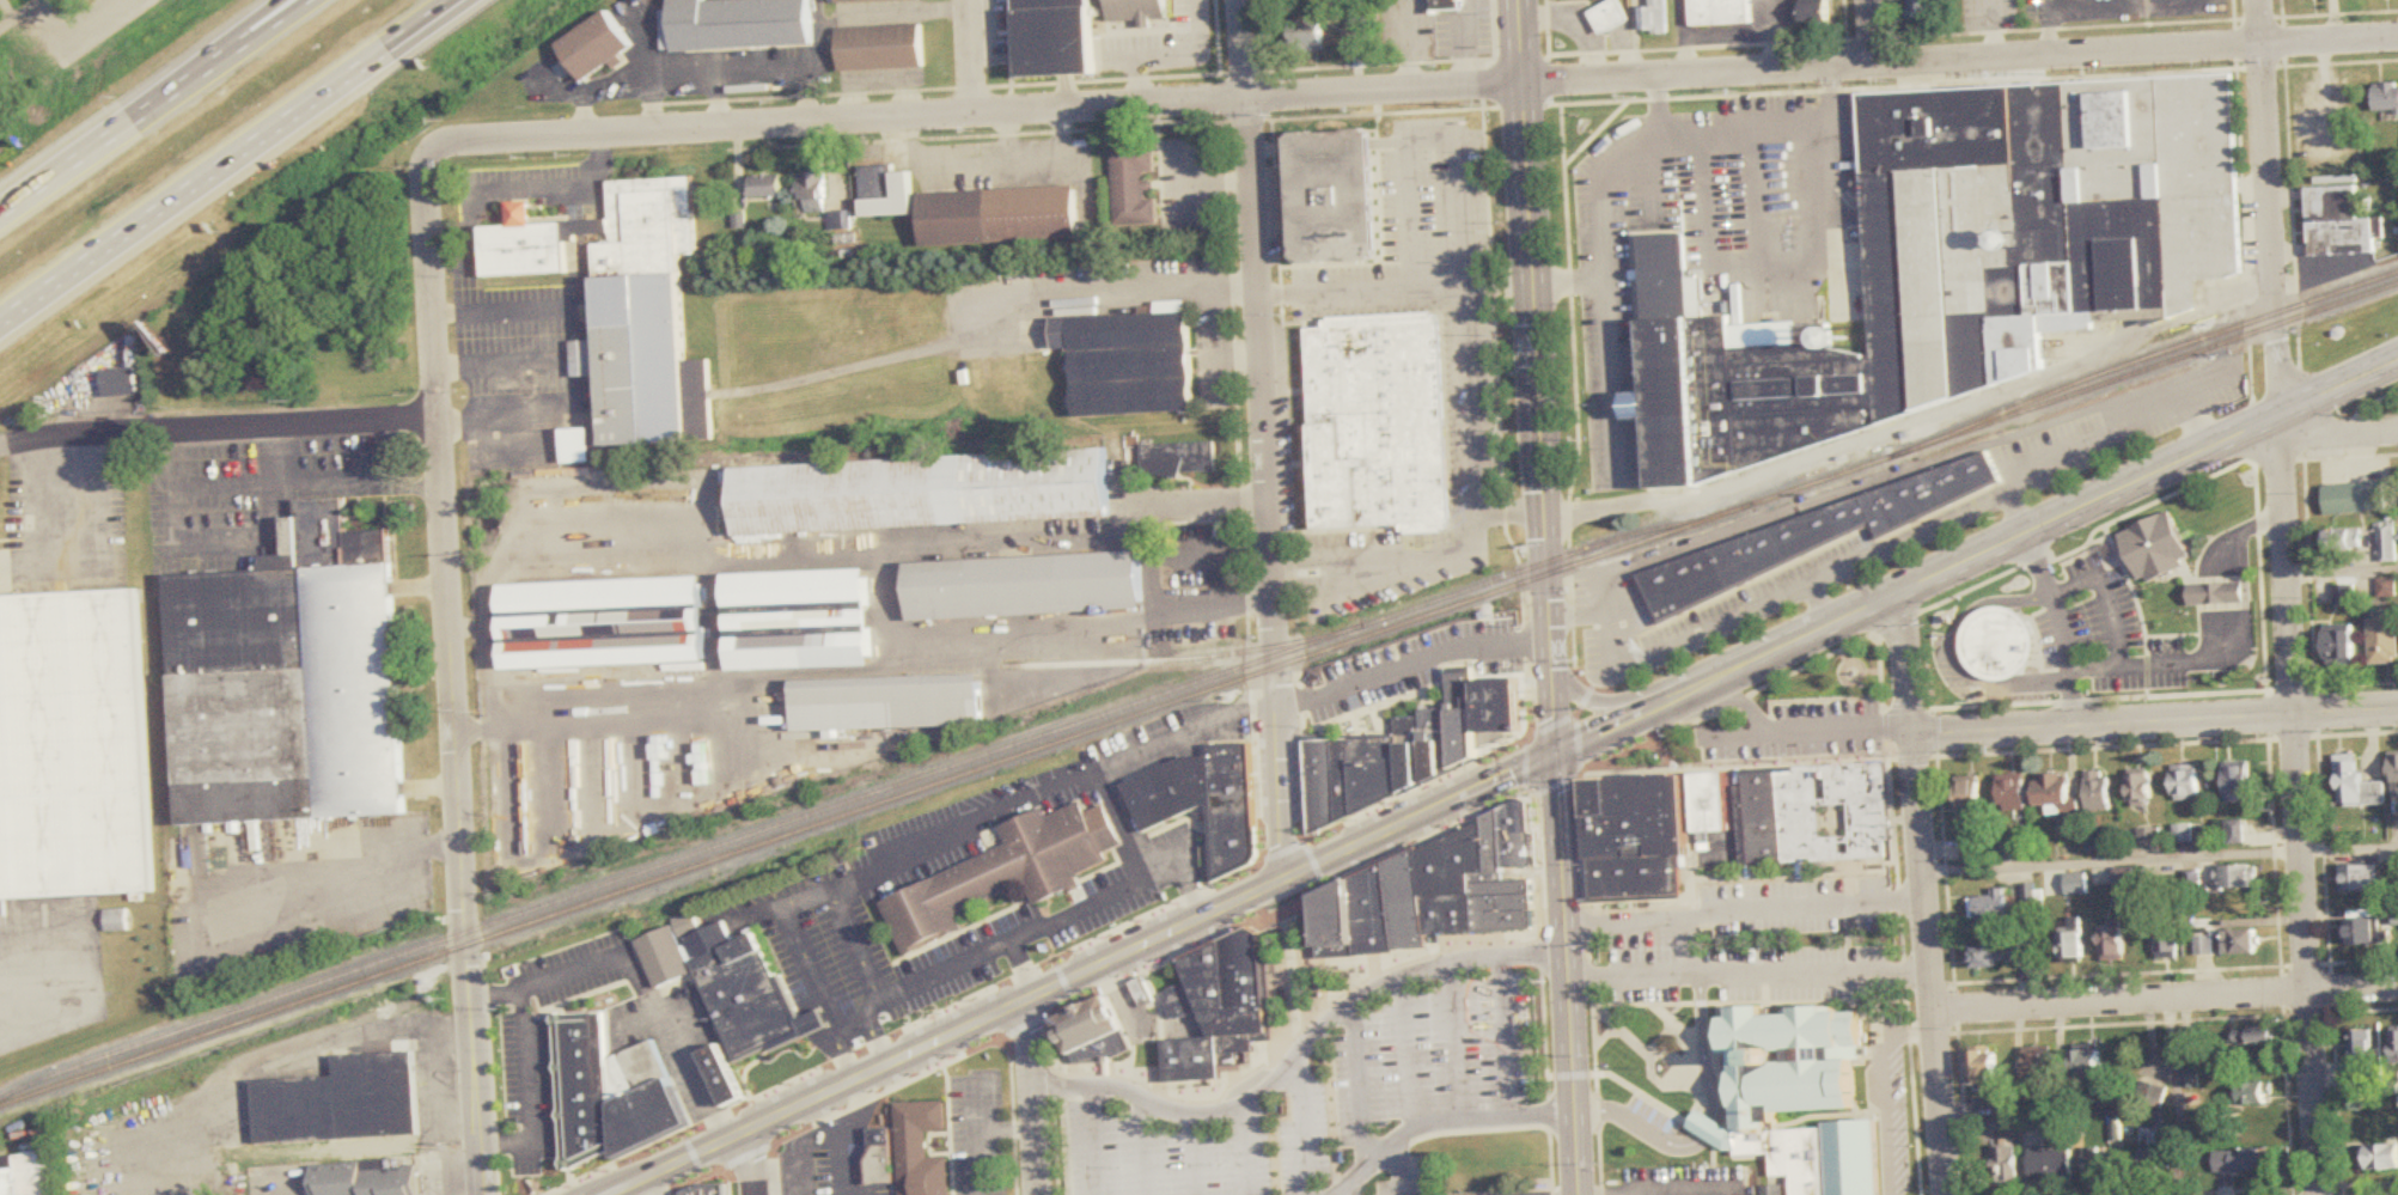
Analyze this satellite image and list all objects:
building: (865, 0)
building: (1586, 0)
road: (59, 1)
road: (109, 4)
road: (117, 4)
road: (969, 5)
building: (1441, 8)
building: (1920, 8)
road: (2094, 10)
building: (1140, 11)
building: (1816, 11)
building: (1720, 13)
road: (24, 16)
building: (1607, 17)
building: (1655, 18)
parking lot: (87, 23)
road: (2259, 23)
building: (742, 24)
road: (1871, 33)
road: (71, 35)
building: (1308, 35)
road: (243, 38)
building: (1055, 38)
building: (597, 47)
building: (880, 48)
road: (401, 53)
road: (972, 60)
road: (769, 71)
road: (1416, 90)
road: (806, 93)
building: (2385, 98)
road: (718, 102)
road: (654, 106)
road: (158, 112)
road: (1744, 135)
road: (1433, 142)
road: (225, 160)
building: (765, 187)
building: (1133, 188)
road: (518, 191)
building: (885, 193)
building: (812, 194)
building: (1334, 195)
building: (1000, 217)
building: (2338, 222)
road: (2270, 228)
road: (1529, 255)
building: (1957, 263)
road: (1775, 282)
road: (1113, 283)
road: (1496, 287)
road: (1359, 291)
road: (1610, 298)
building: (628, 304)
road: (499, 313)
water tower: (1843, 337)
road: (1214, 340)
road: (1238, 354)
building: (585, 359)
railway: (2143, 359)
building: (1130, 361)
road: (500, 370)
railway: (2146, 370)
building: (124, 384)
road: (1468, 404)
road: (289, 420)
building: (1379, 421)
road: (1912, 422)
road: (492, 423)
road: (2195, 425)
road: (2337, 433)
road: (68, 437)
road: (1264, 438)
building: (578, 446)
building: (1179, 459)
road: (334, 482)
traffic signals: (1543, 489)
building: (921, 493)
building: (2355, 499)
road: (2018, 513)
road: (1508, 514)
road: (1544, 516)
road: (2036, 528)
building: (1810, 536)
building: (2343, 539)
building: (2387, 543)
building: (2156, 548)
road: (722, 549)
road: (1881, 554)
road: (1154, 560)
road: (1383, 560)
road: (2343, 572)
building: (1025, 586)
building: (2387, 587)
building: (2217, 595)
road: (1607, 598)
road: (2110, 599)
road: (1820, 605)
building: (800, 621)
building: (604, 624)
road: (2061, 627)
road: (1551, 636)
building: (2384, 636)
road: (2217, 639)
building: (1999, 645)
building: (2341, 648)
road: (1955, 657)
railway: (1148, 660)
road: (1411, 665)
parking lot: (1418, 666)
road: (453, 673)
building: (288, 694)
road: (1585, 701)
building: (887, 703)
building: (1499, 705)
road: (1603, 705)
building: (1463, 717)
road: (1578, 721)
road: (1617, 726)
road: (2051, 727)
building: (1436, 743)
building: (72, 746)
building: (1410, 752)
road: (1136, 754)
traffic signals: (1558, 754)
road: (1526, 764)
building: (1375, 770)
building: (2394, 775)
parking lot: (1290, 778)
railway: (946, 780)
building: (1330, 782)
building: (2186, 782)
building: (2239, 782)
road: (1557, 785)
building: (2357, 785)
road: (1418, 788)
road: (1481, 788)
building: (1171, 791)
building: (2099, 791)
building: (2141, 791)
railway: (873, 793)
building: (2013, 793)
road: (1530, 794)
building: (2056, 794)
parking lot: (1411, 800)
building: (1970, 800)
road: (2296, 804)
building: (1234, 807)
building: (1792, 816)
road: (971, 828)
building: (2234, 831)
building: (2184, 834)
building: (1636, 836)
parking lot: (1412, 837)
building: (2150, 840)
building: (1509, 843)
building: (1971, 849)
road: (1282, 853)
road: (2160, 860)
road: (1313, 865)
building: (1007, 873)
building: (2396, 876)
building: (2239, 877)
building: (2125, 878)
building: (2360, 879)
building: (1453, 880)
building: (2077, 884)
road: (1926, 892)
building: (2030, 892)
road: (810, 898)
building: (1408, 903)
road: (1288, 904)
building: (1993, 904)
road: (1215, 909)
road: (1746, 913)
building: (1373, 914)
building: (2396, 916)
building: (117, 921)
road: (1054, 922)
building: (1336, 925)
parking lot: (1128, 933)
building: (2365, 933)
road: (1567, 934)
building: (2074, 939)
building: (2168, 940)
building: (2243, 943)
building: (2115, 944)
building: (2205, 945)
road: (1690, 946)
parking lot: (1176, 949)
building: (1999, 955)
road: (1020, 969)
road: (1751, 974)
road: (639, 980)
road: (1063, 982)
building: (732, 986)
building: (1232, 990)
building: (1143, 992)
road: (2166, 999)
building: (1180, 1001)
parking lot: (957, 1013)
road: (1030, 1025)
road: (1139, 1025)
road: (853, 1029)
road: (908, 1029)
road: (47, 1030)
building: (1093, 1032)
parking lot: (667, 1034)
road: (1905, 1034)
building: (2254, 1035)
parking lot: (544, 1041)
building: (2396, 1045)
road: (1703, 1048)
building: (2362, 1059)
building: (1792, 1062)
building: (1195, 1063)
parking lot: (923, 1066)
building: (1985, 1067)
building: (2038, 1067)
building: (2089, 1067)
building: (724, 1077)
road: (847, 1084)
road: (527, 1090)
road: (887, 1091)
road: (1117, 1091)
building: (610, 1092)
parking lot: (782, 1095)
road: (1035, 1096)
building: (343, 1099)
road: (977, 1105)
parking lot: (826, 1111)
road: (1885, 1123)
road: (1640, 1127)
road: (1708, 1128)
building: (2055, 1134)
road: (978, 1135)
road: (1094, 1142)
building: (1768, 1146)
building: (921, 1148)
road: (1145, 1150)
road: (692, 1156)
road: (1196, 1156)
road: (1576, 1156)
road: (746, 1157)
building: (881, 1157)
parking lot: (1125, 1157)
building: (2379, 1157)
building: (2156, 1158)
building: (2241, 1160)
road: (756, 1162)
building: (109, 1163)
building: (2003, 1163)
building: (2098, 1163)
building: (2050, 1165)
road: (709, 1175)
building: (30, 1176)
road: (458, 1176)
building: (366, 1177)
parking lot: (280, 1181)
building: (1845, 1181)
road: (281, 1182)
road: (640, 1182)
road: (663, 1183)
building: (707, 1191)
building: (1775, 1194)

